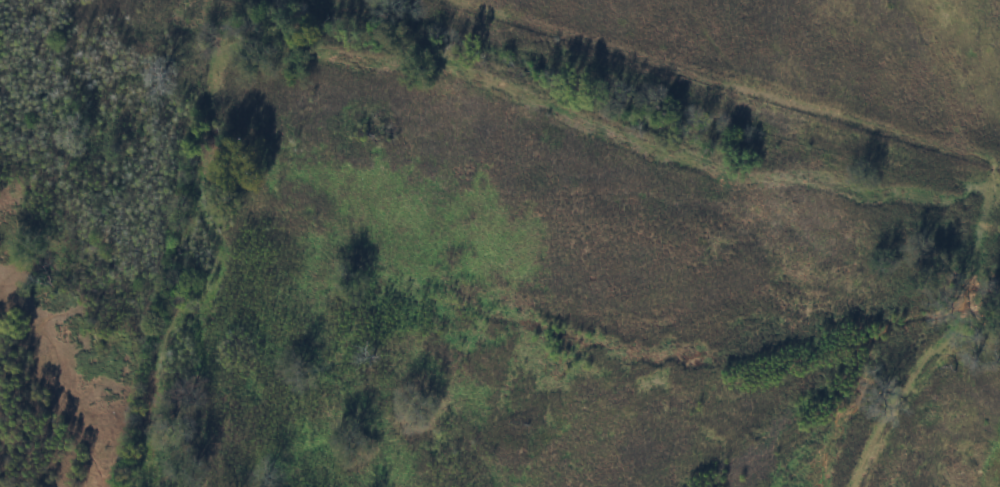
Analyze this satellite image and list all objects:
road: (912, 385)

